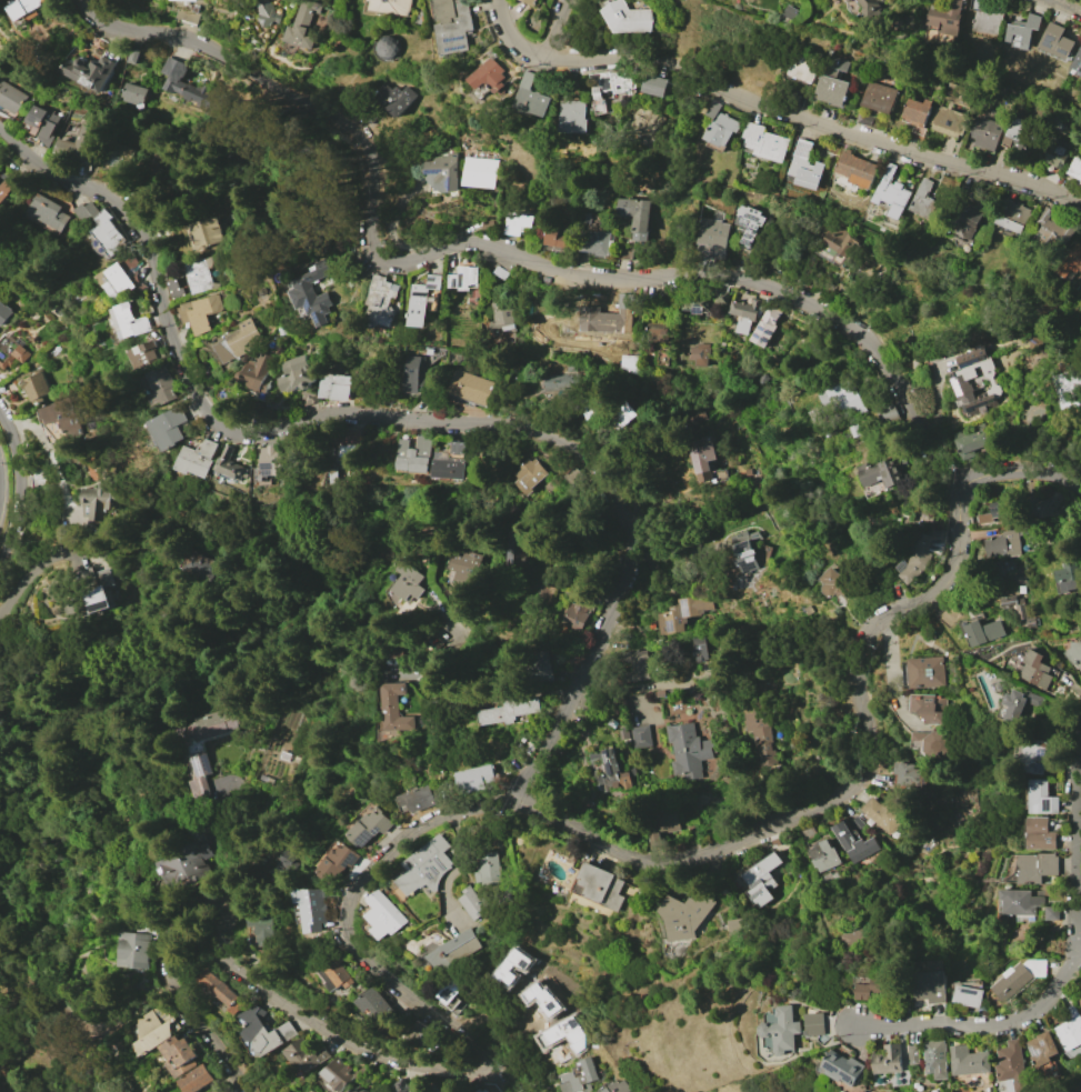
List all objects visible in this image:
building: (191, 0)
building: (369, 0)
building: (849, 1)
building: (530, 2)
building: (391, 6)
road: (1067, 6)
building: (871, 7)
building: (27, 10)
building: (790, 11)
building: (269, 12)
building: (628, 18)
building: (947, 18)
building: (987, 21)
building: (307, 24)
building: (452, 24)
road: (560, 29)
building: (1022, 31)
building: (939, 37)
rooftop solar panel: (1049, 39)
building: (1057, 40)
building: (389, 47)
rooftop solar panel: (1064, 49)
building: (134, 56)
building: (1078, 61)
building: (838, 62)
building: (803, 64)
building: (90, 71)
building: (488, 76)
rooftop solar panel: (608, 82)
building: (611, 82)
building: (653, 84)
building: (189, 87)
building: (832, 90)
building: (133, 93)
building: (530, 96)
building: (879, 96)
building: (11, 97)
road: (294, 97)
building: (394, 98)
road: (774, 110)
road: (113, 111)
building: (915, 111)
building: (951, 111)
building: (570, 116)
building: (43, 121)
building: (719, 126)
building: (984, 131)
building: (1020, 134)
building: (764, 141)
building: (77, 142)
building: (1053, 156)
building: (117, 158)
building: (804, 166)
building: (1074, 168)
building: (855, 169)
rooftop solar panel: (437, 172)
building: (443, 172)
building: (480, 172)
rooftop solar panel: (452, 183)
building: (8, 184)
building: (891, 192)
building: (923, 199)
road: (23, 200)
building: (48, 212)
building: (1011, 214)
building: (635, 216)
building: (970, 217)
building: (749, 222)
building: (516, 223)
building: (486, 224)
building: (1050, 227)
building: (102, 228)
building: (203, 232)
building: (712, 234)
building: (555, 238)
building: (594, 241)
building: (850, 256)
building: (1070, 261)
building: (500, 272)
building: (200, 273)
building: (118, 277)
building: (463, 277)
rooftop solar panel: (462, 280)
road: (729, 280)
rooftop solar panel: (456, 283)
building: (176, 289)
building: (312, 291)
building: (720, 297)
building: (381, 300)
building: (422, 300)
building: (433, 300)
building: (695, 302)
rooftop solar panel: (309, 309)
building: (199, 312)
building: (4, 313)
building: (744, 313)
building: (500, 317)
building: (608, 318)
building: (130, 320)
rooftop solar panel: (318, 321)
building: (765, 325)
rooftop solar panel: (763, 329)
building: (657, 331)
rooftop solar panel: (771, 333)
rooftop solar panel: (760, 337)
building: (238, 341)
rooftop solar panel: (767, 341)
building: (11, 352)
building: (146, 353)
building: (698, 353)
rooftop solar panel: (974, 361)
building: (629, 362)
building: (952, 367)
building: (254, 372)
building: (296, 373)
building: (414, 373)
building: (560, 381)
building: (162, 382)
building: (975, 382)
building: (36, 385)
building: (333, 385)
building: (1067, 385)
building: (469, 388)
rooftop solar panel: (960, 388)
building: (307, 395)
building: (851, 403)
rooftop solar panel: (978, 408)
building: (590, 412)
building: (888, 413)
building: (813, 414)
building: (62, 415)
building: (620, 415)
road: (388, 419)
building: (169, 427)
building: (352, 434)
building: (971, 442)
building: (861, 444)
building: (416, 454)
building: (197, 458)
building: (703, 458)
road: (50, 460)
building: (272, 460)
building: (451, 461)
building: (229, 463)
rooftop solar panel: (270, 467)
building: (527, 474)
building: (880, 474)
building: (572, 477)
road: (20, 482)
road: (0, 483)
building: (98, 501)
building: (1000, 509)
rooftop solar panel: (997, 511)
building: (1002, 544)
building: (517, 547)
building: (742, 549)
building: (923, 552)
building: (193, 563)
rooftop solar panel: (902, 563)
road: (50, 564)
building: (462, 570)
building: (1010, 573)
building: (1068, 575)
building: (404, 580)
building: (835, 583)
building: (97, 588)
building: (1012, 605)
rooftop solar panel: (101, 607)
rooftop solar panel: (687, 611)
building: (683, 612)
building: (577, 615)
building: (1030, 622)
rooftop solar panel: (672, 627)
building: (981, 630)
building: (699, 649)
building: (1074, 654)
building: (635, 664)
building: (542, 667)
building: (1035, 670)
building: (924, 671)
building: (1019, 704)
building: (931, 707)
building: (394, 708)
building: (508, 710)
building: (1054, 711)
building: (761, 733)
building: (640, 735)
building: (930, 744)
building: (200, 747)
building: (687, 751)
building: (1031, 755)
rooftop solar panel: (208, 763)
rooftop solar panel: (199, 767)
building: (611, 770)
building: (907, 773)
building: (476, 779)
building: (416, 798)
building: (1041, 798)
building: (883, 814)
building: (857, 824)
building: (372, 828)
building: (661, 828)
road: (1078, 831)
building: (1039, 833)
rooftop solar panel: (380, 838)
building: (853, 842)
rooftop solar panel: (371, 845)
road: (701, 855)
building: (823, 855)
building: (288, 861)
building: (186, 863)
building: (341, 863)
building: (424, 866)
building: (1034, 868)
building: (490, 870)
building: (760, 879)
road: (236, 883)
building: (602, 885)
building: (1020, 901)
building: (472, 902)
building: (314, 908)
building: (1052, 913)
building: (685, 914)
building: (384, 915)
building: (737, 926)
building: (264, 933)
building: (862, 936)
building: (137, 948)
building: (454, 950)
road: (227, 961)
road: (20, 968)
building: (336, 971)
building: (1021, 976)
building: (938, 986)
building: (881, 988)
building: (221, 992)
rooftop solar panel: (977, 992)
building: (972, 996)
building: (451, 998)
building: (1080, 1000)
building: (376, 1005)
road: (992, 1022)
road: (63, 1024)
building: (825, 1024)
building: (792, 1030)
building: (1072, 1030)
building: (154, 1031)
building: (262, 1032)
park: (40, 1033)
road: (48, 1034)
building: (422, 1035)
rooftop solar panel: (1048, 1046)
building: (1045, 1049)
building: (304, 1054)
building: (924, 1054)
building: (178, 1055)
building: (945, 1058)
rooftop solar panel: (1040, 1058)
building: (900, 1060)
building: (977, 1060)
building: (1018, 1065)
building: (853, 1068)
building: (343, 1072)
rooftop solar panel: (847, 1073)
road: (1, 1074)
building: (580, 1076)
building: (196, 1079)
rooftop solar panel: (862, 1083)
building: (401, 1085)
building: (427, 1086)
building: (620, 1086)
building: (353, 1090)
building: (479, 1090)
building: (363, 1091)
building: (373, 1091)
park: (889, 1091)

